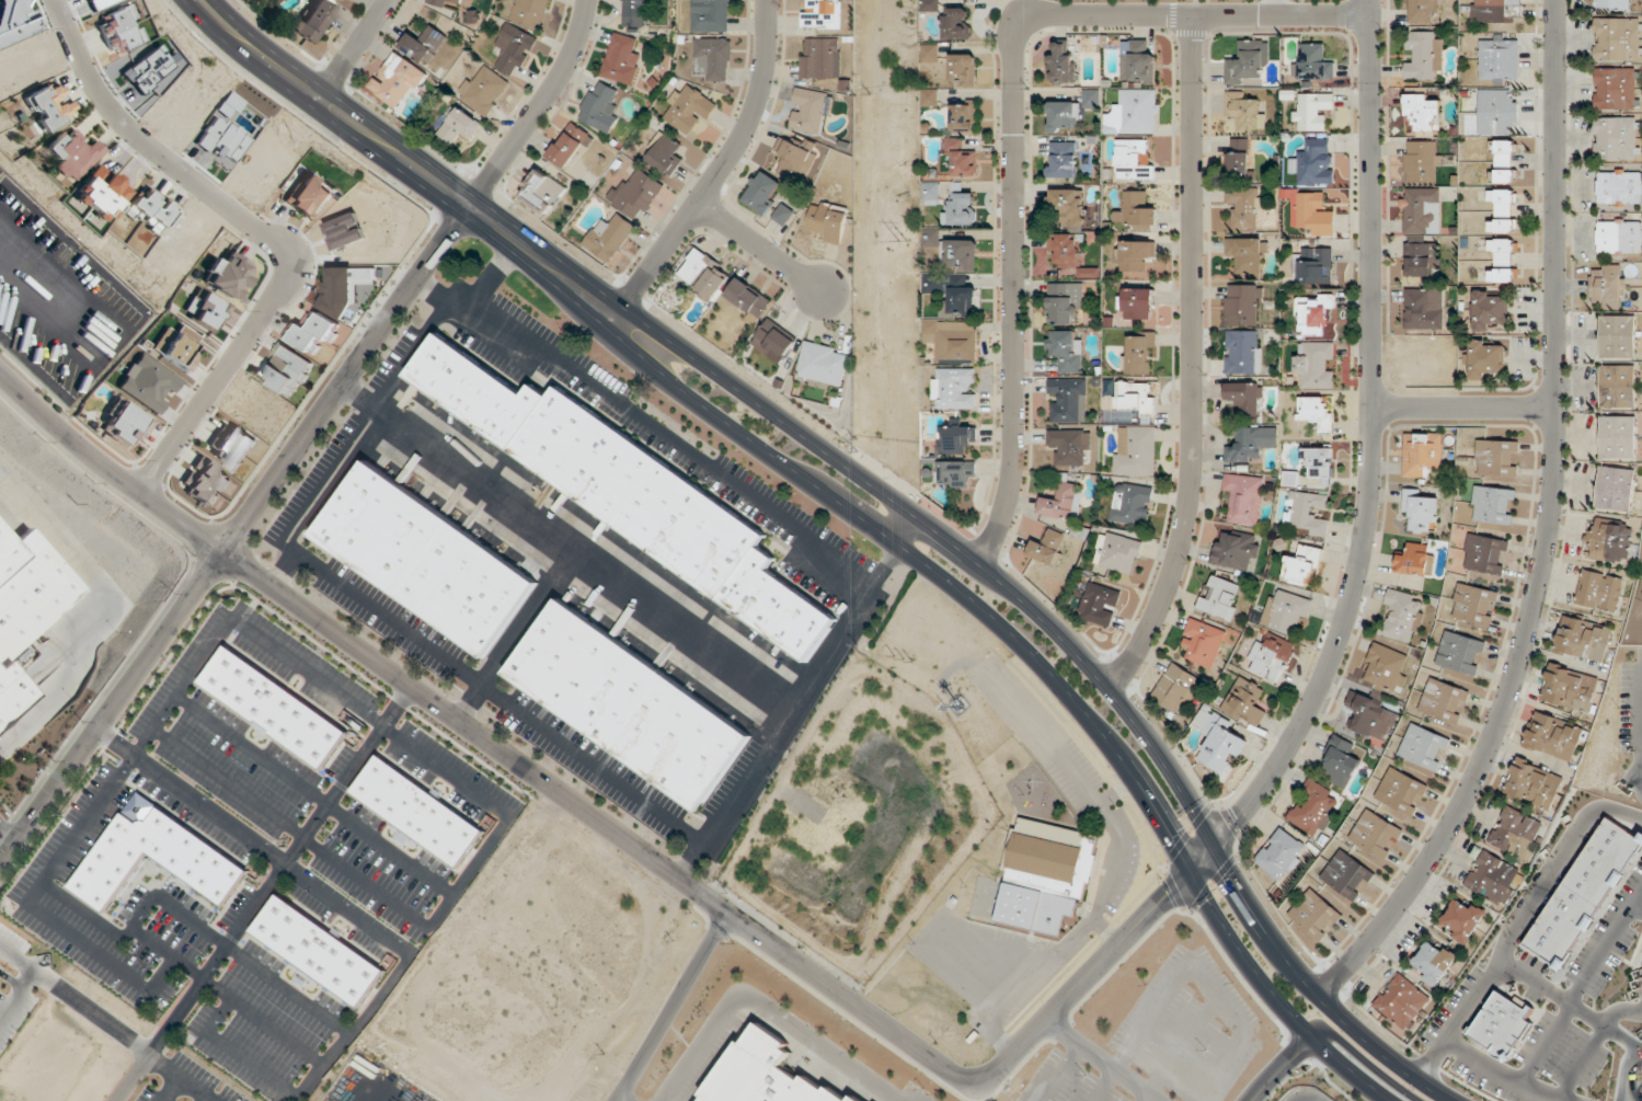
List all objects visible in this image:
building: (348, 0)
building: (443, 2)
building: (1612, 5)
building: (1495, 11)
building: (530, 12)
road: (1023, 12)
building: (1421, 12)
building: (634, 13)
building: (820, 14)
building: (711, 16)
building: (314, 21)
building: (955, 24)
building: (123, 31)
building: (1617, 39)
building: (424, 44)
road: (352, 48)
building: (514, 49)
building: (929, 54)
building: (1423, 56)
building: (713, 59)
building: (819, 60)
building: (1499, 60)
building: (621, 61)
building: (1137, 62)
building: (1313, 64)
building: (1248, 65)
building: (1060, 66)
building: (962, 70)
building: (398, 79)
building: (482, 90)
building: (1616, 90)
building: (49, 106)
building: (599, 107)
building: (688, 110)
building: (1244, 112)
building: (1312, 112)
building: (808, 113)
building: (1070, 113)
building: (1134, 113)
building: (1496, 114)
building: (1422, 116)
building: (963, 117)
road: (1013, 123)
building: (459, 127)
building: (1617, 138)
building: (569, 146)
building: (664, 153)
building: (74, 156)
building: (1239, 158)
road: (404, 159)
building: (793, 159)
building: (957, 160)
building: (1061, 161)
building: (1133, 161)
building: (1422, 162)
building: (1503, 162)
building: (1314, 163)
road: (719, 171)
building: (1619, 187)
building: (542, 192)
building: (930, 192)
building: (762, 193)
building: (636, 194)
building: (309, 198)
building: (1069, 207)
building: (961, 208)
building: (1243, 208)
building: (149, 211)
building: (1136, 211)
building: (1421, 211)
building: (1503, 211)
building: (1312, 214)
building: (783, 215)
building: (827, 222)
road: (256, 231)
building: (929, 234)
building: (1619, 237)
building: (609, 238)
road: (758, 246)
building: (1065, 250)
building: (1245, 254)
building: (958, 255)
building: (1135, 255)
building: (1421, 260)
building: (1502, 261)
building: (1314, 266)
building: (704, 274)
building: (228, 276)
building: (1608, 287)
building: (951, 297)
building: (748, 298)
building: (1064, 303)
building: (1136, 305)
building: (1243, 306)
building: (1422, 309)
building: (1491, 312)
building: (1312, 316)
building: (314, 335)
building: (1618, 336)
building: (774, 340)
building: (955, 343)
building: (1066, 351)
building: (179, 353)
building: (1139, 353)
building: (1243, 353)
building: (1486, 359)
road: (1192, 363)
building: (823, 365)
building: (1316, 366)
building: (285, 370)
building: (148, 383)
building: (1618, 387)
building: (954, 389)
building: (1135, 398)
building: (1244, 399)
building: (1067, 401)
road: (1462, 406)
building: (1317, 413)
building: (124, 424)
road: (306, 437)
building: (1618, 437)
building: (955, 438)
road: (1370, 441)
building: (1252, 445)
building: (232, 446)
building: (1070, 447)
building: (1135, 451)
building: (1422, 456)
building: (1496, 461)
building: (1317, 462)
building: (955, 474)
building: (1290, 479)
building: (1615, 489)
building: (627, 491)
building: (1244, 498)
building: (1060, 503)
building: (1132, 504)
building: (1493, 506)
building: (1420, 511)
building: (1307, 514)
road: (898, 526)
road: (1547, 527)
building: (1607, 541)
building: (1048, 547)
building: (1235, 550)
building: (1117, 553)
building: (1485, 555)
building: (423, 559)
building: (1414, 561)
building: (1302, 566)
building: (28, 590)
building: (1598, 590)
building: (1219, 598)
building: (1100, 605)
building: (1473, 608)
road: (95, 609)
building: (1285, 611)
building: (1403, 617)
building: (1582, 640)
building: (1202, 643)
building: (1460, 654)
road: (1081, 658)
building: (1271, 658)
building: (1386, 668)
road: (1043, 669)
road: (1641, 670)
building: (1175, 688)
building: (1569, 689)
building: (10, 691)
building: (1445, 701)
building: (625, 703)
building: (1245, 703)
building: (272, 706)
building: (1371, 718)
road: (1640, 732)
building: (1553, 737)
road: (486, 738)
building: (1219, 742)
road: (1641, 744)
building: (1424, 748)
building: (1340, 762)
building: (1532, 784)
building: (1401, 792)
building: (1316, 810)
building: (416, 811)
traffic signals: (1237, 818)
road: (8, 832)
traffic signals: (1171, 833)
building: (1516, 833)
building: (1375, 837)
road: (253, 842)
building: (151, 855)
building: (1282, 856)
building: (1347, 875)
building: (1047, 878)
traffic signals: (1233, 879)
building: (1491, 879)
road: (264, 893)
building: (1582, 895)
traffic signals: (1167, 897)
road: (1637, 910)
building: (1316, 916)
building: (1462, 920)
road: (1516, 922)
building: (314, 949)
road: (1102, 963)
road: (1190, 963)
building: (1433, 963)
road: (1581, 988)
road: (288, 990)
building: (1402, 1002)
road: (670, 1006)
road: (1572, 1006)
road: (767, 1008)
road: (263, 1022)
building: (1501, 1025)
road: (357, 1027)
road: (1595, 1045)
road: (1180, 1050)
road: (236, 1052)
road: (1103, 1060)
road: (1367, 1064)
road: (1279, 1069)
road: (1624, 1071)
road: (1061, 1073)
building: (765, 1075)
road: (1501, 1075)
road: (1632, 1080)
road: (1640, 1096)
road: (622, 1098)

